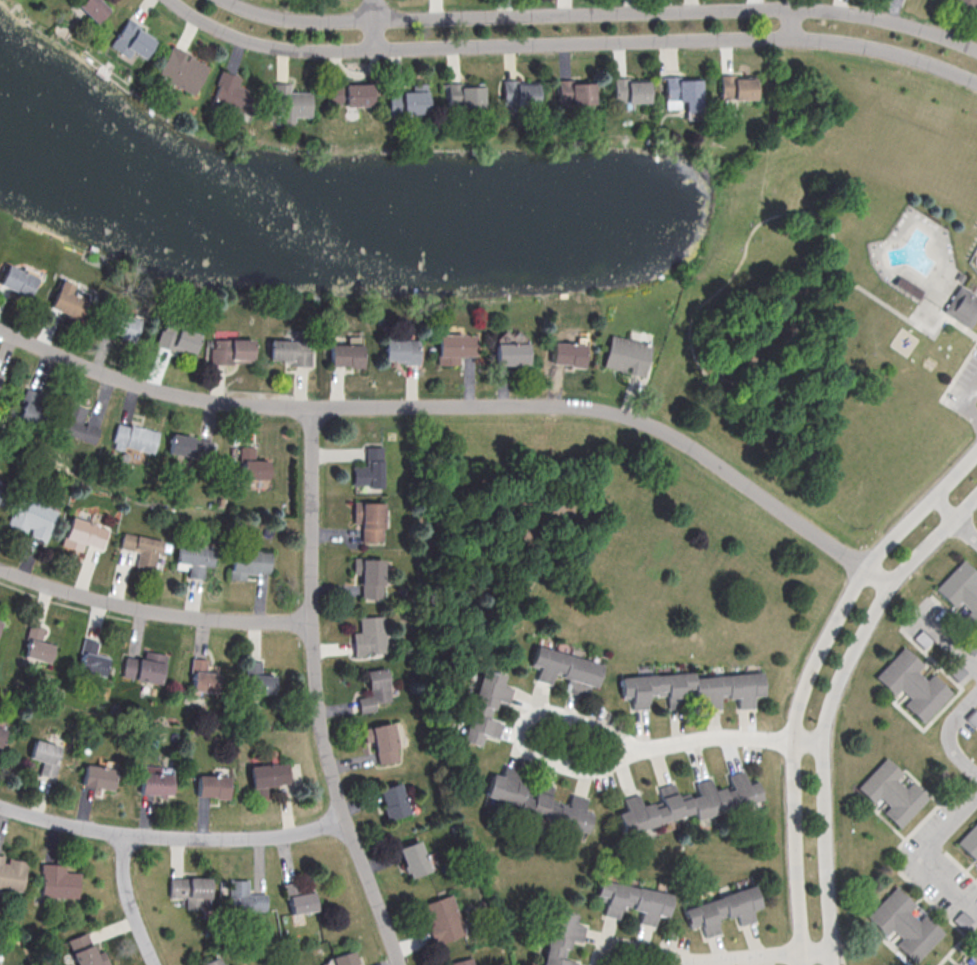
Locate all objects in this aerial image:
building: (965, 4)
building: (93, 9)
road: (602, 12)
road: (791, 21)
road: (375, 24)
building: (132, 39)
road: (572, 42)
building: (181, 69)
building: (735, 87)
building: (629, 90)
building: (573, 91)
building: (683, 91)
building: (519, 93)
building: (231, 94)
building: (351, 94)
building: (464, 94)
building: (408, 100)
building: (290, 102)
building: (17, 282)
parking lot: (975, 286)
road: (705, 300)
building: (67, 302)
park: (839, 302)
building: (963, 310)
road: (914, 323)
building: (120, 325)
building: (176, 339)
building: (455, 347)
building: (402, 351)
building: (229, 352)
building: (289, 353)
building: (567, 353)
building: (511, 355)
building: (345, 356)
building: (626, 356)
building: (1, 375)
parking lot: (963, 388)
road: (969, 402)
road: (463, 406)
building: (30, 410)
building: (76, 425)
building: (133, 439)
building: (195, 448)
building: (252, 464)
building: (370, 468)
building: (0, 490)
park: (861, 490)
building: (33, 519)
building: (369, 520)
road: (954, 520)
building: (82, 536)
building: (141, 550)
building: (196, 558)
building: (249, 563)
building: (370, 575)
building: (960, 591)
road: (153, 610)
building: (0, 622)
building: (370, 635)
building: (37, 644)
road: (951, 646)
building: (144, 667)
building: (564, 668)
building: (204, 675)
building: (258, 679)
road: (807, 679)
building: (910, 685)
building: (699, 688)
building: (375, 690)
road: (315, 693)
road: (829, 704)
building: (485, 706)
building: (1, 734)
road: (952, 735)
road: (519, 736)
road: (725, 736)
building: (382, 741)
building: (0, 749)
building: (43, 757)
building: (99, 776)
building: (267, 777)
building: (154, 782)
building: (506, 785)
building: (212, 787)
building: (889, 793)
building: (720, 796)
building: (392, 800)
building: (560, 809)
building: (649, 809)
road: (171, 837)
building: (969, 843)
road: (923, 854)
building: (413, 858)
building: (12, 873)
building: (58, 881)
building: (188, 891)
building: (614, 896)
building: (299, 898)
road: (130, 901)
building: (651, 903)
building: (722, 910)
building: (442, 919)
building: (903, 925)
building: (561, 937)
road: (637, 943)
building: (84, 952)
road: (760, 955)
building: (972, 956)
building: (344, 958)
building: (211, 962)
building: (461, 962)
building: (957, 964)

